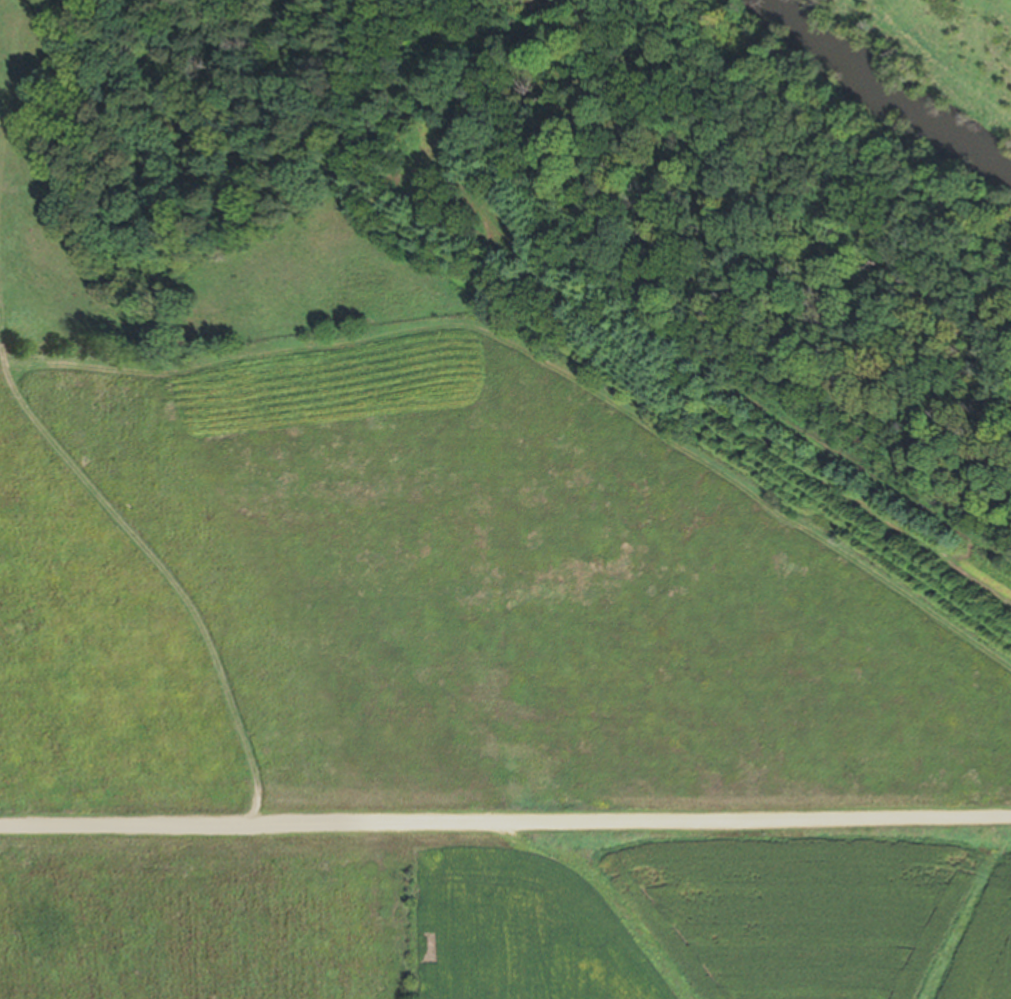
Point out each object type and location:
river: (909, 78)
road: (505, 815)

